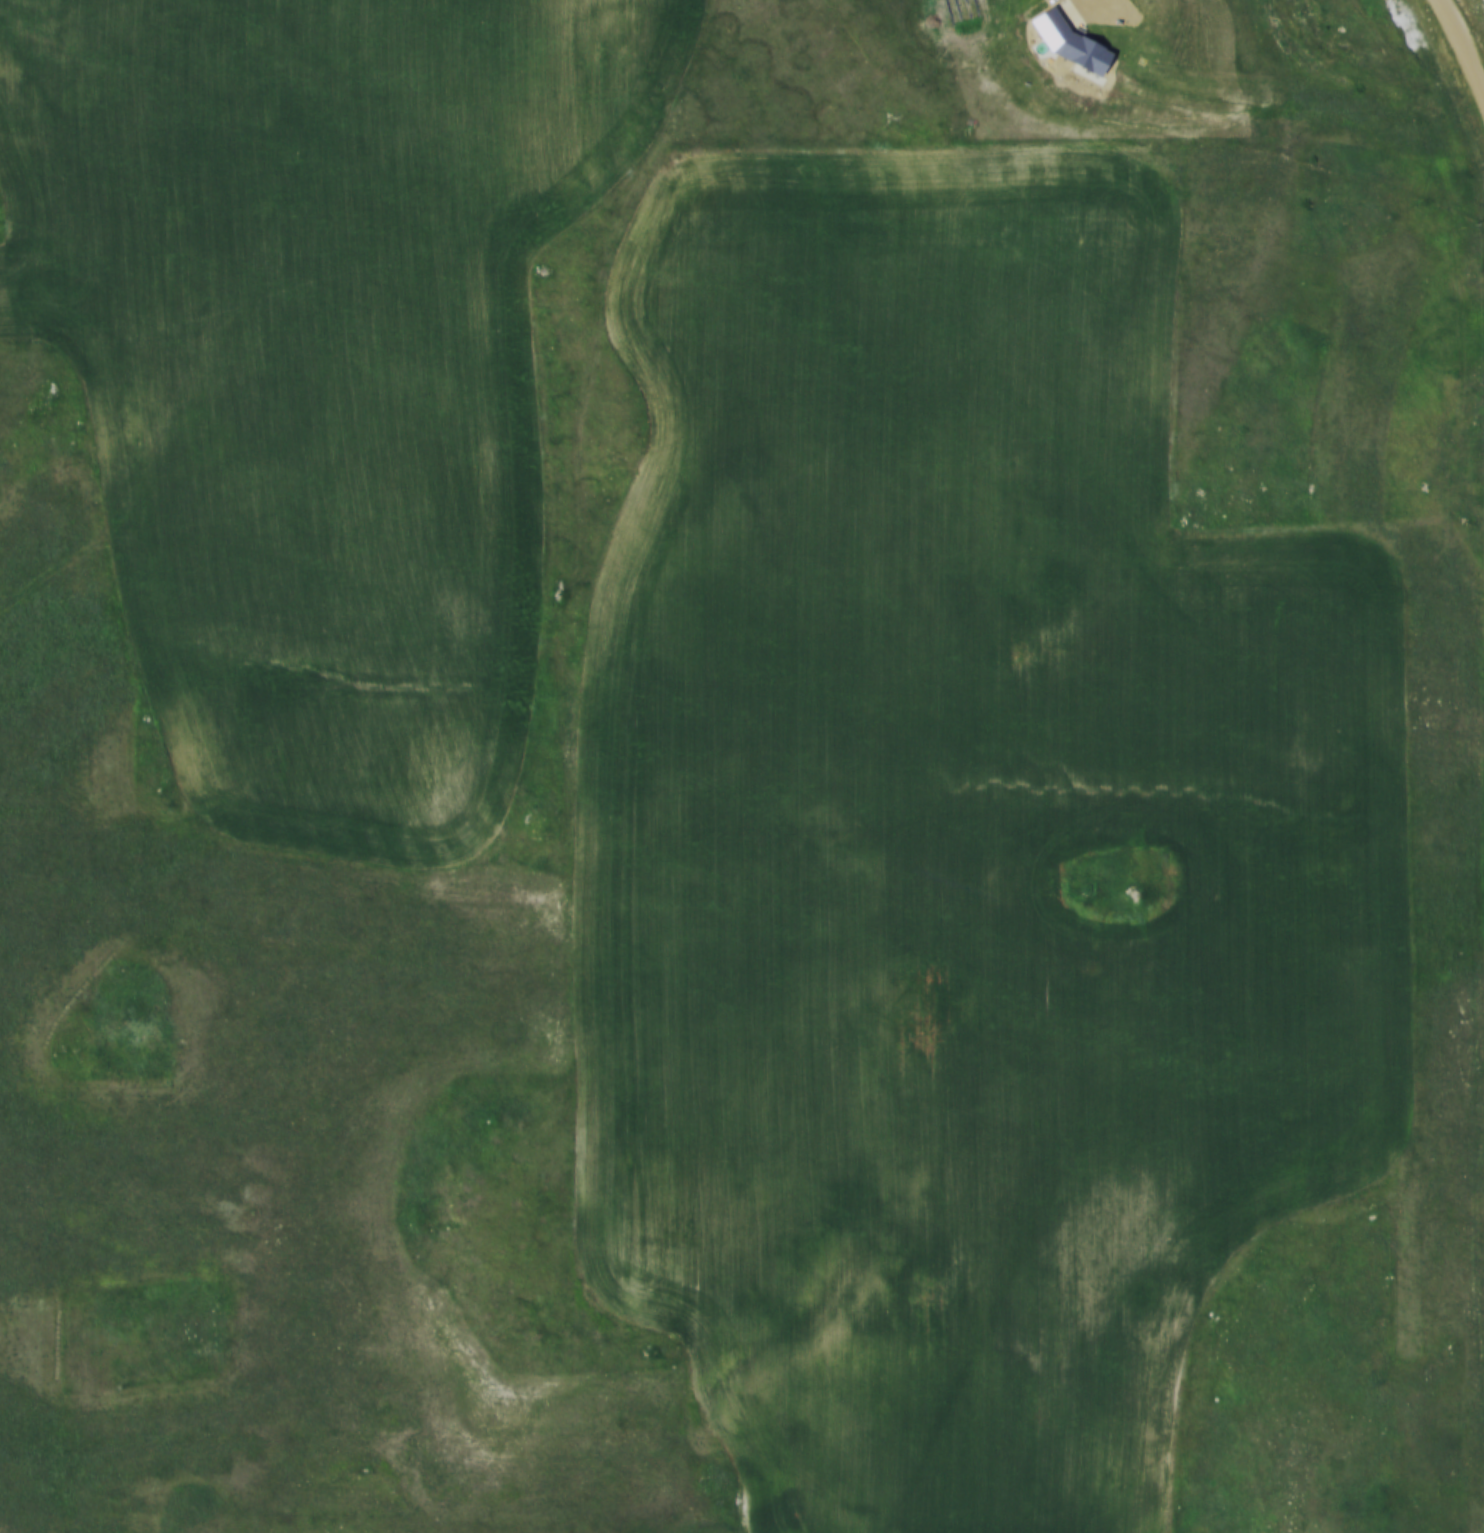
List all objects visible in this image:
road: (1464, 44)

